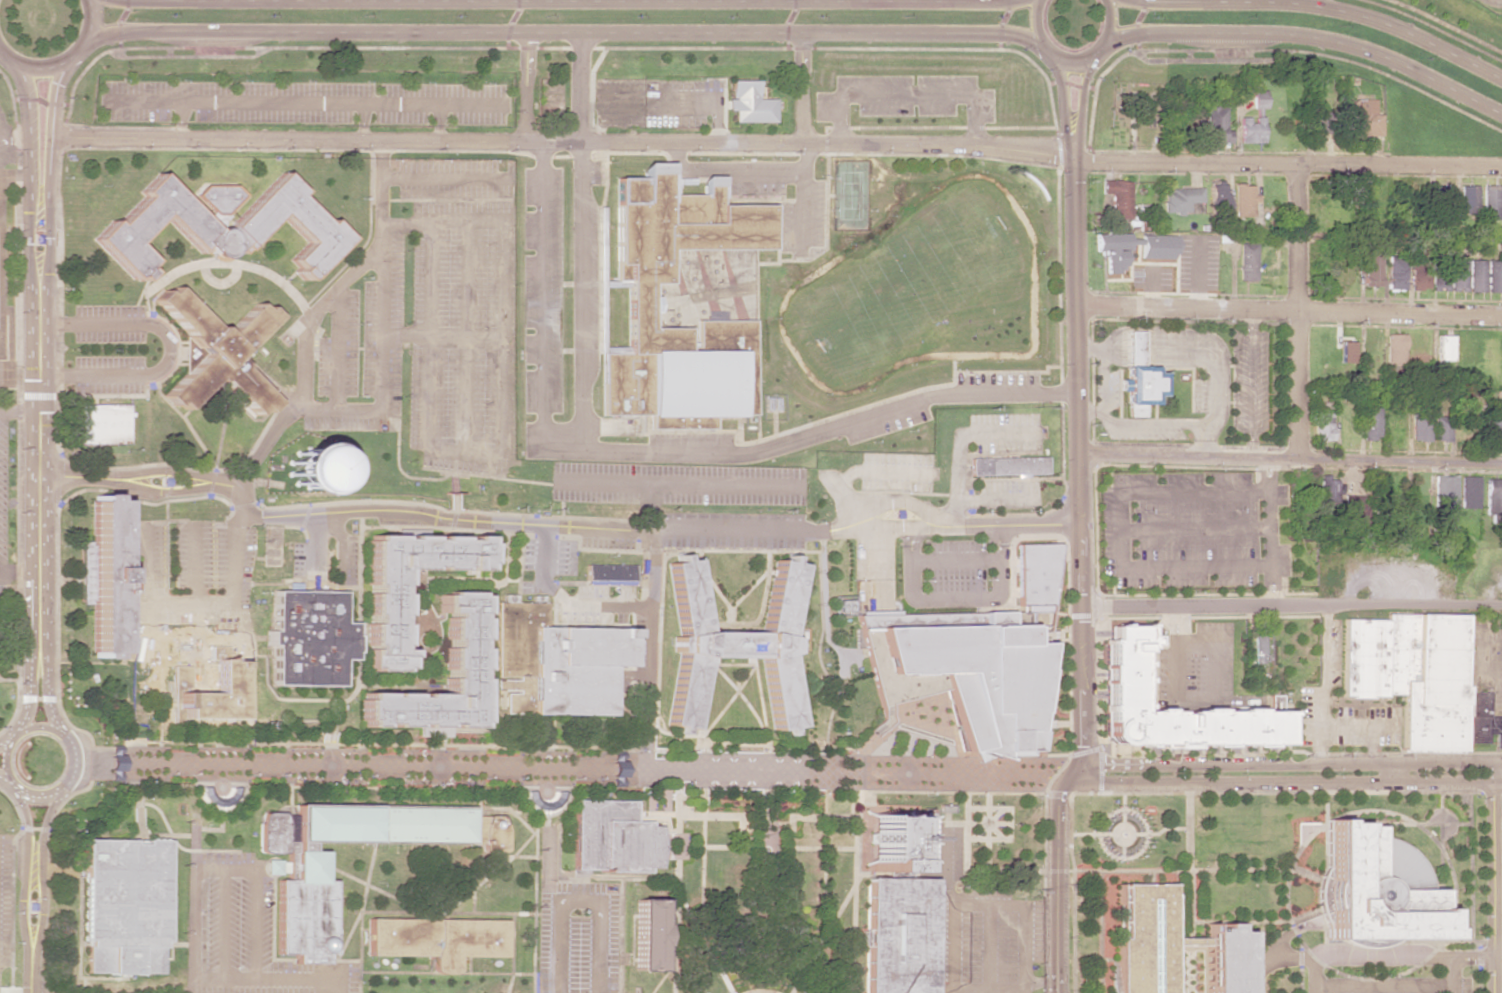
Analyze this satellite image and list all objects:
road: (564, 0)
road: (1323, 8)
road: (90, 24)
road: (1446, 26)
road: (563, 32)
road: (1306, 37)
road: (0, 51)
road: (0, 51)
road: (1071, 61)
road: (41, 67)
road: (526, 88)
road: (578, 88)
road: (799, 89)
road: (904, 95)
road: (1081, 95)
road: (1062, 96)
parking lot: (904, 97)
building: (1258, 99)
parking lot: (303, 102)
road: (305, 102)
parking lot: (655, 102)
building: (748, 103)
road: (676, 104)
building: (1360, 118)
road: (181, 120)
building: (1320, 121)
road: (361, 122)
building: (1215, 122)
road: (439, 123)
road: (52, 129)
building: (1249, 129)
road: (29, 130)
road: (777, 146)
road: (14, 155)
road: (728, 170)
building: (594, 173)
road: (445, 179)
parking lot: (755, 185)
building: (1443, 190)
park: (849, 195)
building: (1216, 195)
building: (1118, 197)
road: (802, 199)
building: (1179, 199)
building: (1468, 199)
building: (1242, 200)
building: (1490, 202)
parking lot: (803, 217)
building: (313, 225)
building: (1156, 247)
building: (1112, 251)
building: (1246, 261)
building: (1371, 265)
building: (1419, 272)
building: (1396, 273)
building: (1457, 275)
building: (1476, 276)
building: (1494, 276)
road: (504, 279)
building: (1439, 281)
park: (907, 283)
road: (593, 289)
parking lot: (542, 290)
road: (543, 298)
road: (579, 298)
building: (638, 302)
road: (1289, 310)
road: (1297, 311)
parking lot: (461, 313)
road: (381, 321)
road: (442, 337)
road: (465, 337)
road: (337, 348)
building: (1443, 348)
parking lot: (108, 349)
road: (170, 349)
building: (1394, 349)
building: (215, 352)
parking lot: (362, 352)
building: (1346, 352)
road: (427, 371)
road: (304, 373)
building: (1139, 378)
parking lot: (996, 380)
road: (19, 411)
building: (104, 423)
building: (1371, 423)
building: (1492, 423)
parking lot: (886, 424)
building: (1323, 425)
building: (1419, 427)
building: (1440, 428)
road: (812, 430)
parking lot: (1004, 432)
road: (958, 437)
parking lot: (688, 439)
road: (38, 444)
road: (1291, 458)
building: (1008, 466)
building: (306, 469)
parking lot: (960, 470)
road: (882, 472)
parking lot: (895, 472)
water tower: (315, 473)
road: (676, 483)
road: (139, 484)
parking lot: (676, 484)
parking lot: (1008, 489)
building: (1327, 490)
road: (1194, 491)
building: (1468, 492)
building: (1443, 493)
parking lot: (1281, 494)
road: (841, 497)
road: (997, 497)
building: (1493, 498)
road: (896, 502)
road: (649, 507)
building: (1353, 513)
parking lot: (728, 522)
road: (1120, 530)
parking lot: (1180, 530)
road: (1195, 530)
road: (659, 531)
road: (1269, 532)
parking lot: (606, 542)
road: (313, 546)
road: (340, 546)
road: (796, 550)
road: (503, 551)
parking lot: (528, 554)
parking lot: (559, 557)
parking lot: (297, 559)
building: (349, 560)
parking lot: (349, 560)
parking lot: (1282, 560)
road: (954, 561)
road: (194, 564)
parking lot: (954, 567)
road: (1195, 568)
road: (1081, 570)
road: (19, 571)
parking lot: (189, 572)
building: (102, 575)
building: (609, 575)
road: (452, 579)
parking lot: (527, 587)
road: (954, 600)
road: (564, 601)
building: (382, 604)
building: (844, 605)
road: (189, 606)
road: (823, 607)
road: (1292, 607)
road: (651, 620)
road: (432, 622)
road: (1169, 623)
road: (1179, 623)
building: (308, 638)
building: (731, 644)
building: (1257, 645)
road: (413, 647)
road: (1216, 647)
road: (817, 651)
road: (250, 655)
building: (979, 656)
building: (462, 659)
building: (556, 661)
road: (491, 663)
road: (356, 665)
parking lot: (1197, 670)
building: (1409, 673)
building: (229, 679)
road: (1322, 685)
road: (399, 686)
building: (1121, 689)
road: (739, 696)
road: (759, 696)
road: (729, 700)
road: (30, 701)
road: (48, 702)
road: (1189, 702)
building: (1482, 720)
road: (647, 721)
road: (40, 727)
road: (697, 729)
road: (16, 735)
road: (6, 742)
road: (729, 743)
road: (384, 745)
road: (816, 748)
road: (671, 750)
road: (4, 762)
road: (1287, 764)
road: (575, 767)
road: (69, 781)
road: (6, 783)
road: (1287, 783)
road: (17, 789)
building: (546, 803)
road: (488, 809)
road: (689, 814)
building: (613, 838)
road: (701, 839)
road: (1305, 839)
building: (896, 842)
road: (506, 856)
building: (974, 858)
building: (271, 866)
road: (1189, 869)
road: (490, 873)
road: (853, 873)
road: (41, 877)
road: (1492, 878)
road: (30, 880)
road: (675, 884)
road: (12, 885)
road: (374, 888)
building: (1375, 888)
road: (1188, 893)
road: (193, 899)
parking lot: (5, 900)
road: (534, 902)
road: (578, 902)
road: (361, 903)
road: (988, 904)
building: (124, 905)
road: (952, 907)
building: (1119, 912)
road: (459, 913)
building: (304, 917)
road: (1253, 921)
road: (223, 923)
road: (254, 924)
parking lot: (980, 930)
road: (1099, 931)
road: (824, 933)
parking lot: (244, 934)
building: (896, 934)
building: (648, 935)
parking lot: (578, 937)
building: (1146, 939)
building: (436, 940)
building: (1188, 941)
road: (703, 943)
road: (1271, 943)
road: (987, 948)
road: (360, 952)
road: (511, 953)
road: (1377, 957)
building: (1224, 960)
road: (343, 961)
road: (1299, 967)
road: (446, 973)
road: (1313, 975)
road: (1452, 975)
road: (268, 978)
road: (33, 980)
road: (1382, 985)
parking lot: (1389, 985)
road: (759, 988)
road: (9, 992)
road: (1022, 992)

